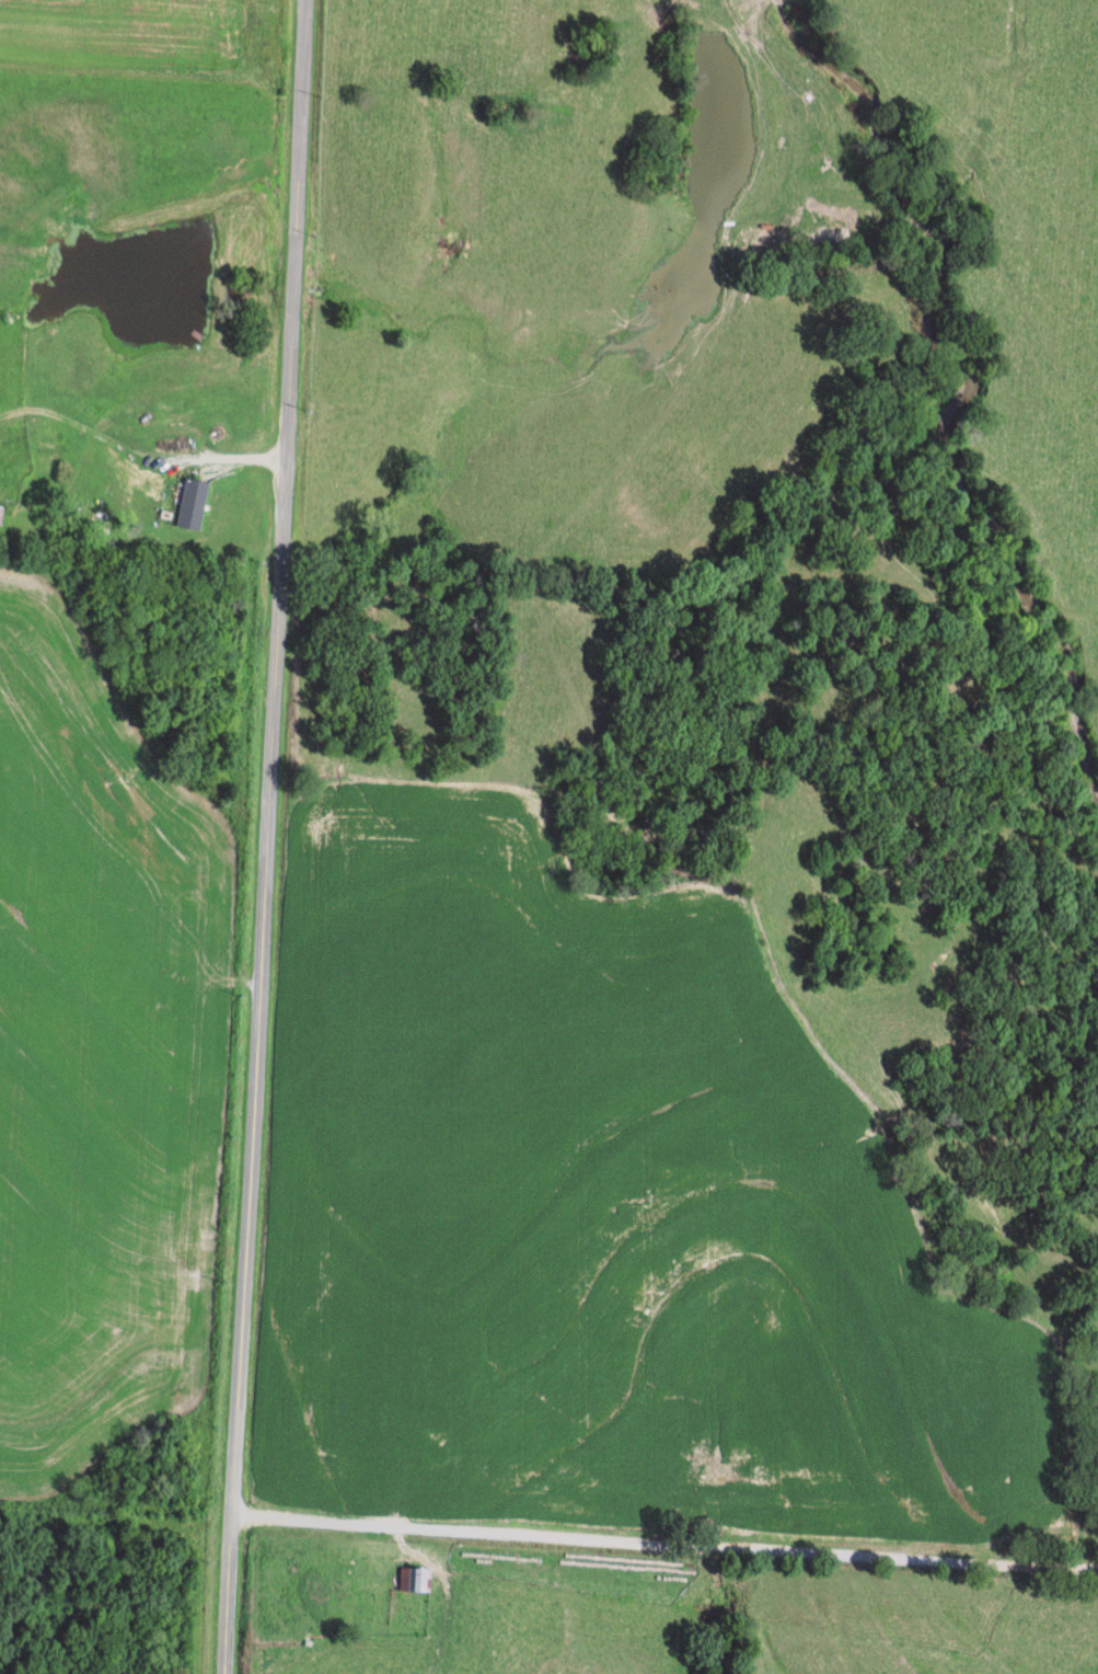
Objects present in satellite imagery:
building: (182, 433)
road: (254, 451)
building: (122, 495)
road: (163, 521)
road: (270, 837)
road: (664, 1541)
building: (411, 1580)
building: (294, 1661)

